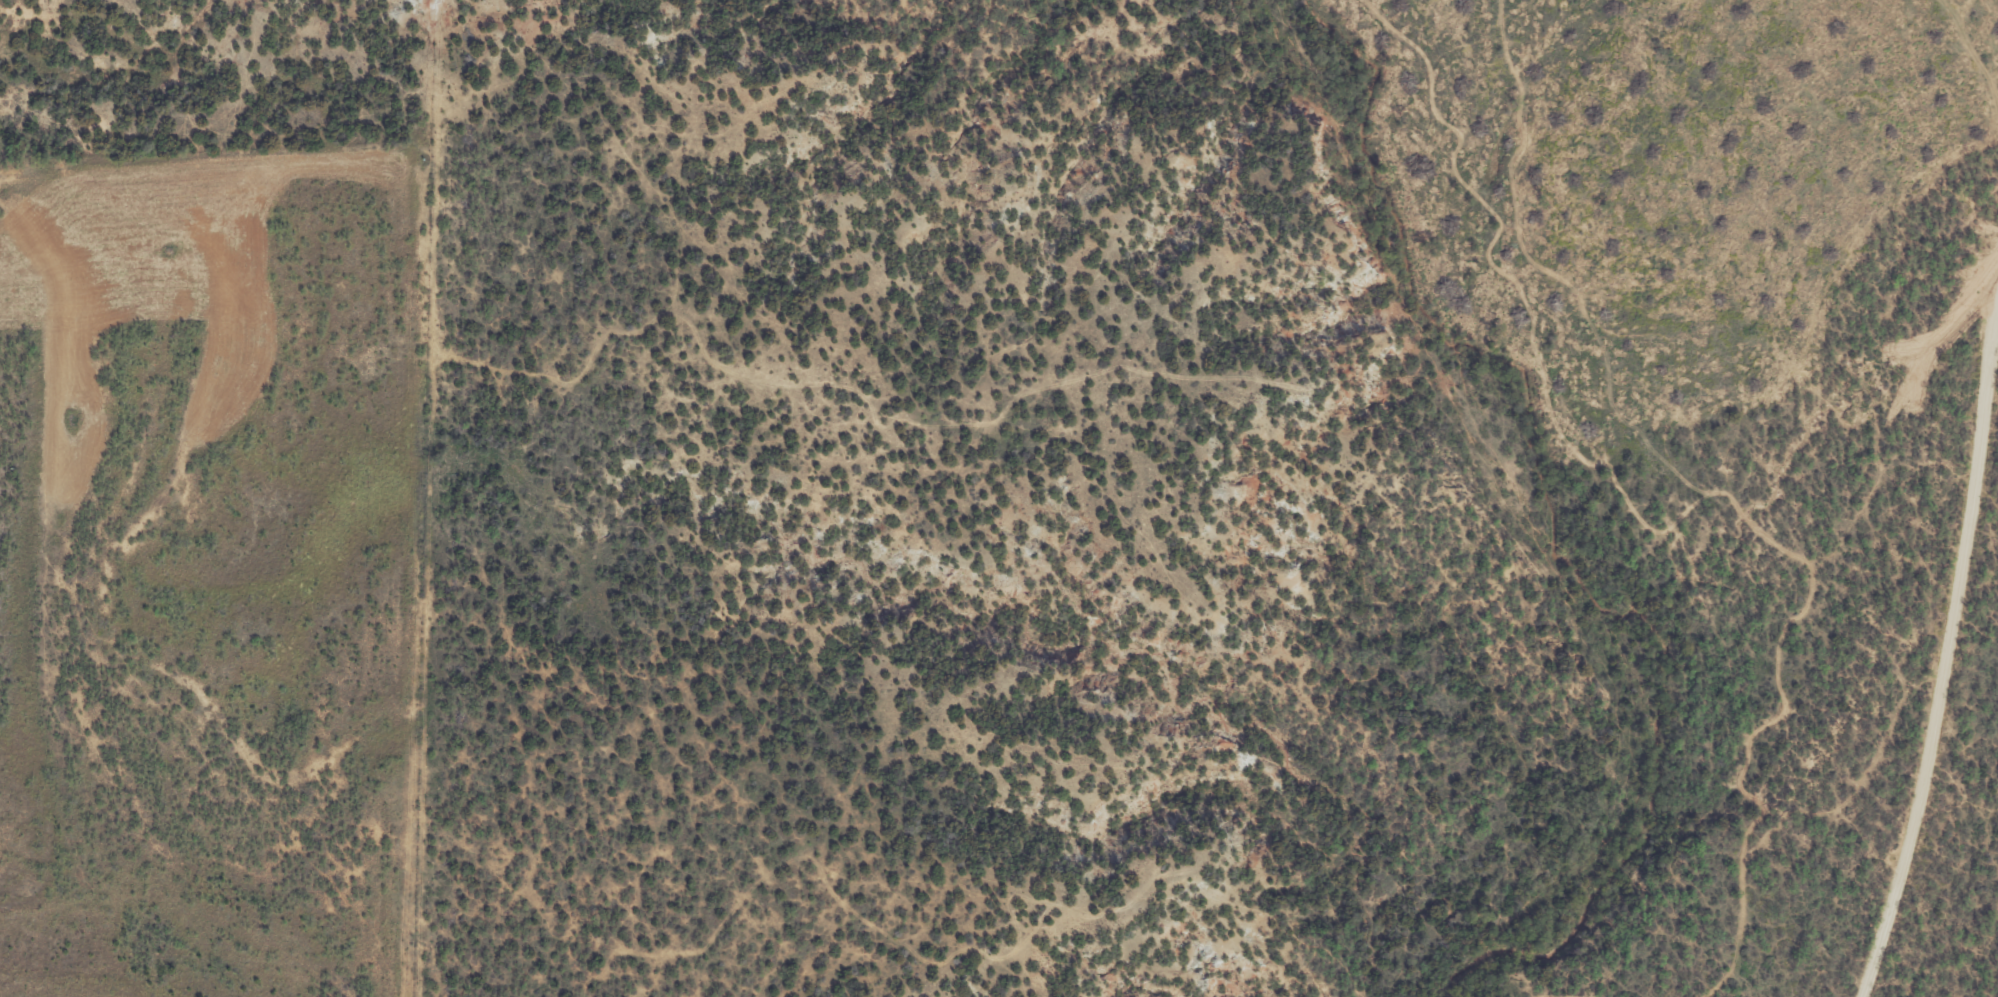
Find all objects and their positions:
road: (1948, 656)

